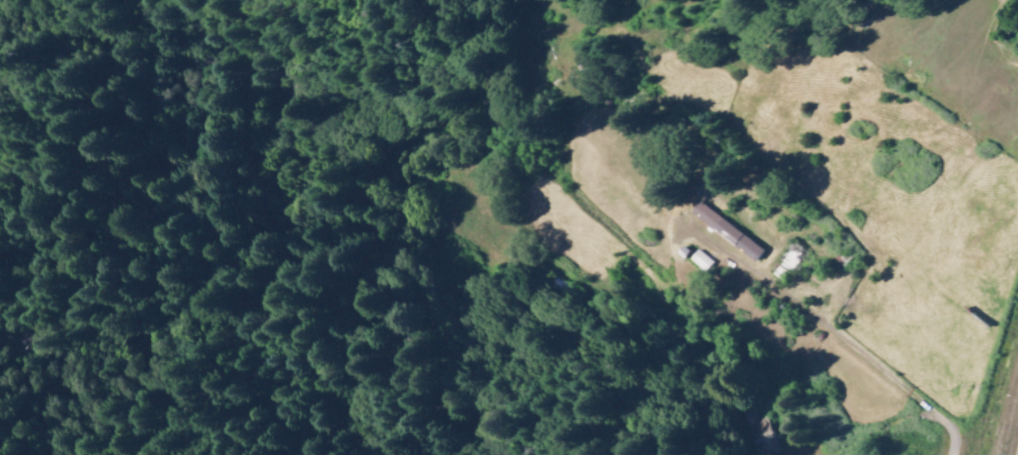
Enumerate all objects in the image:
building: (1017, 26)
building: (725, 231)
building: (701, 260)
road: (818, 315)
road: (904, 421)

